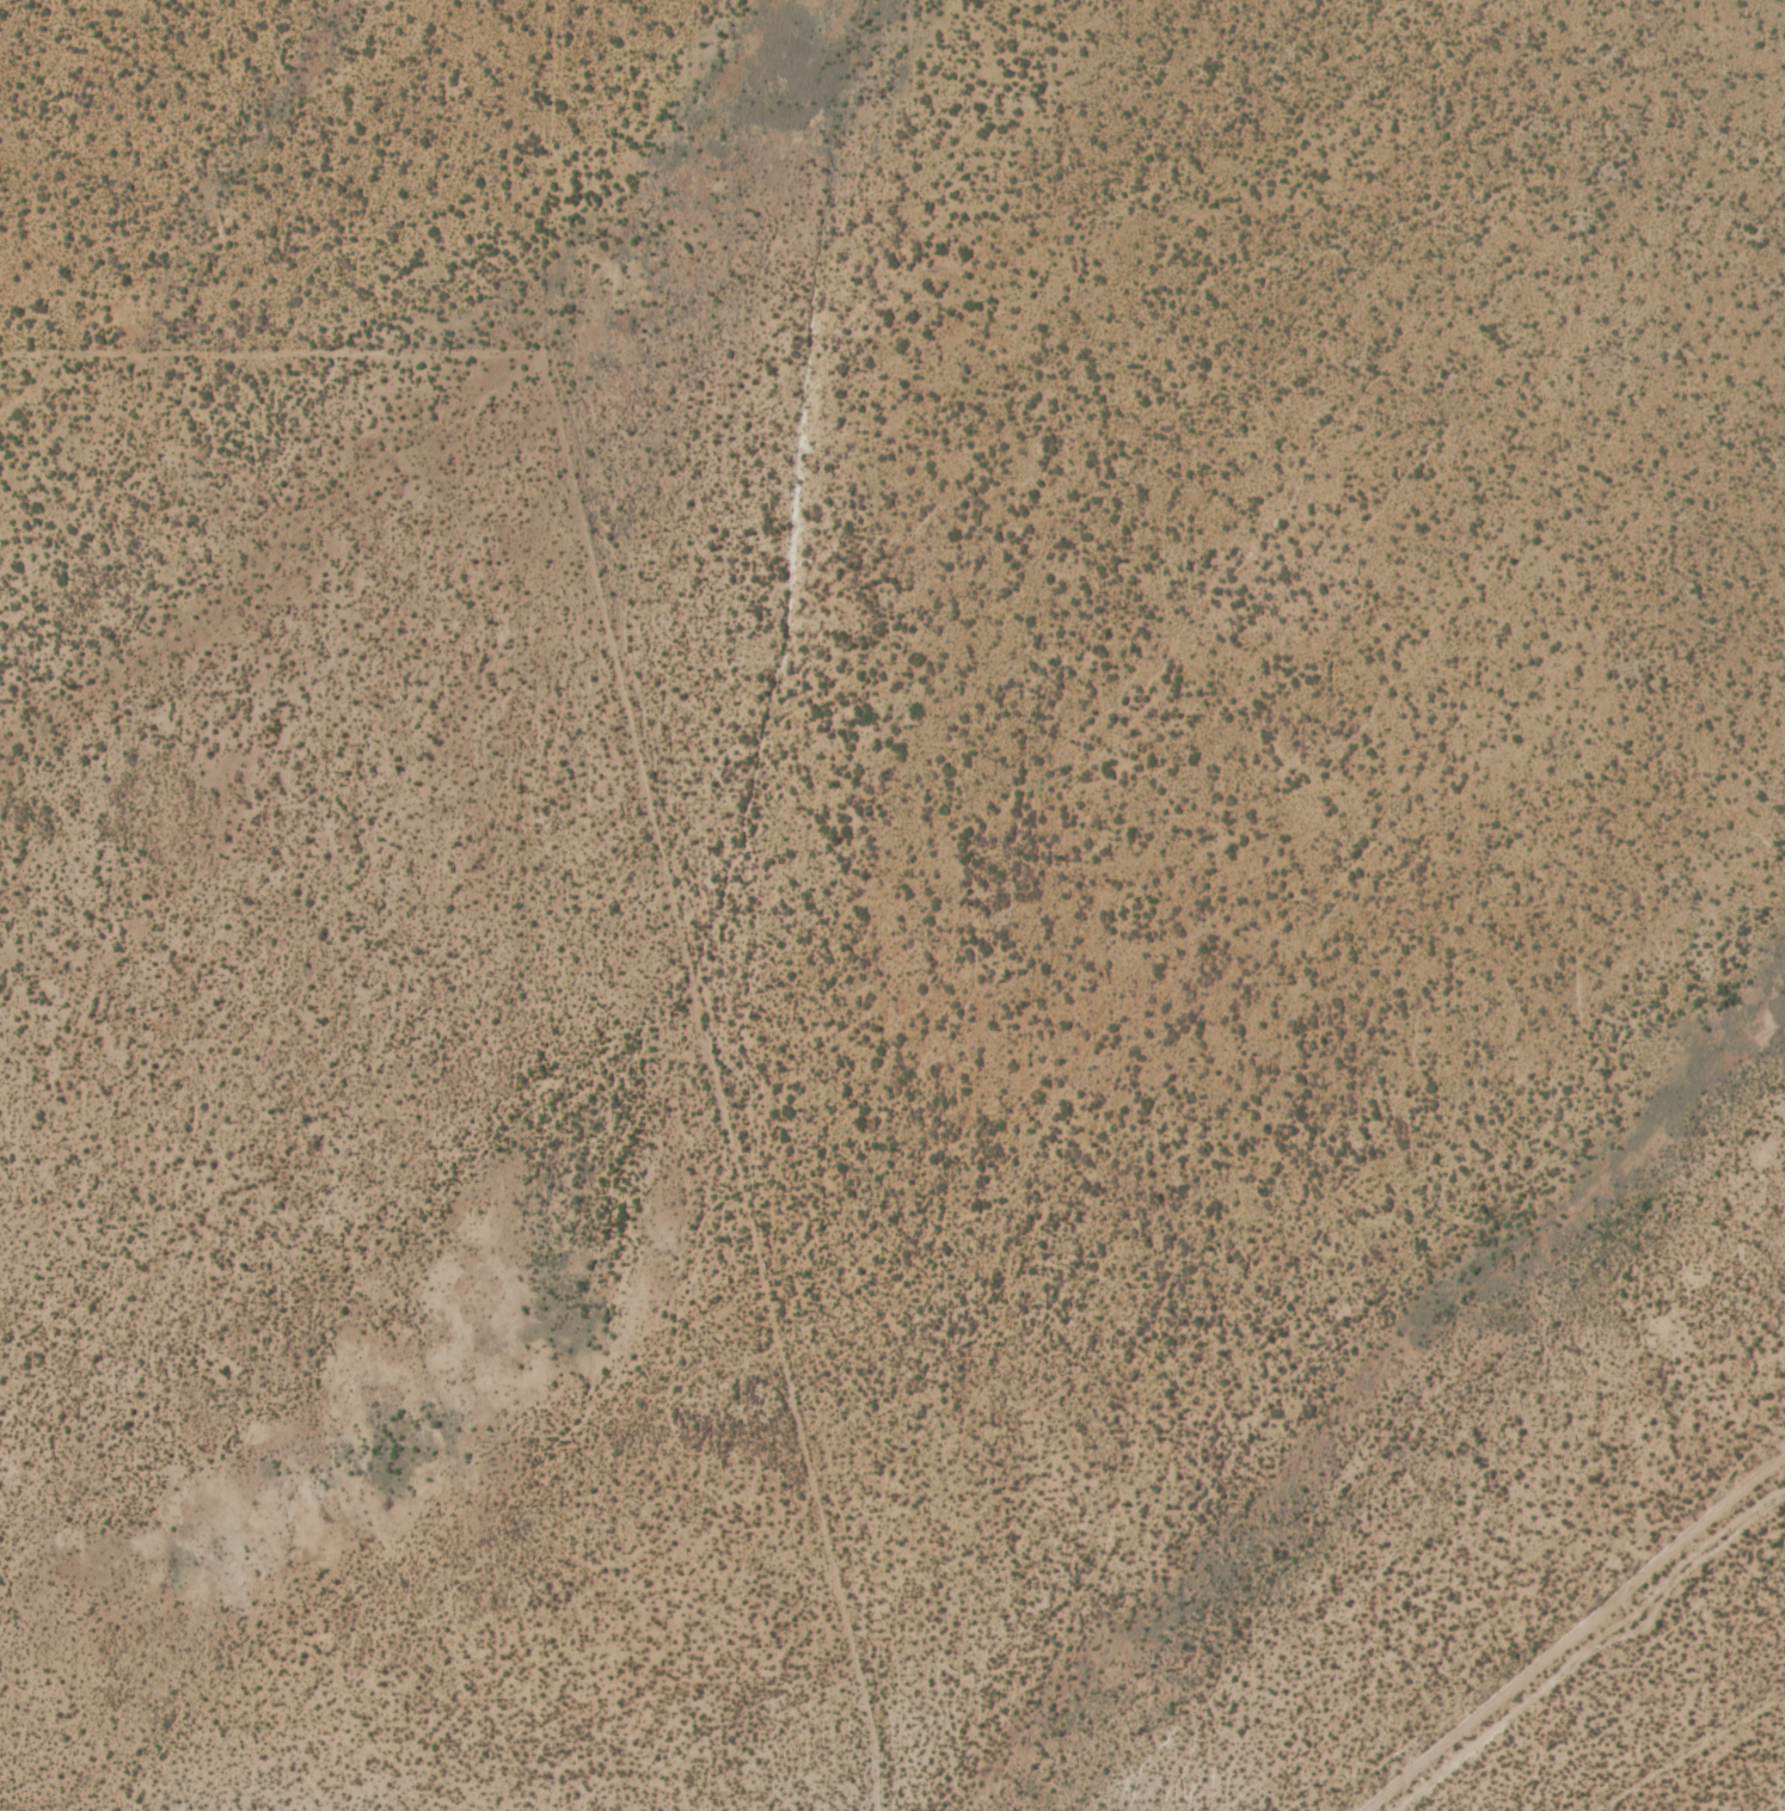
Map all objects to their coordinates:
road: (1585, 1645)

